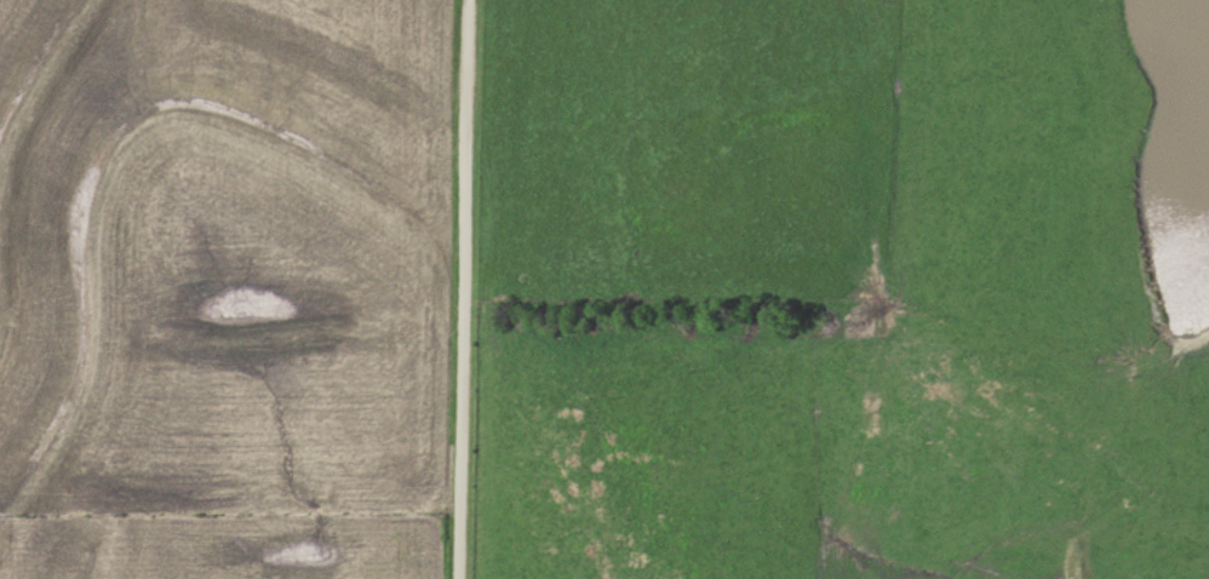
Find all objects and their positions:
road: (475, 289)

